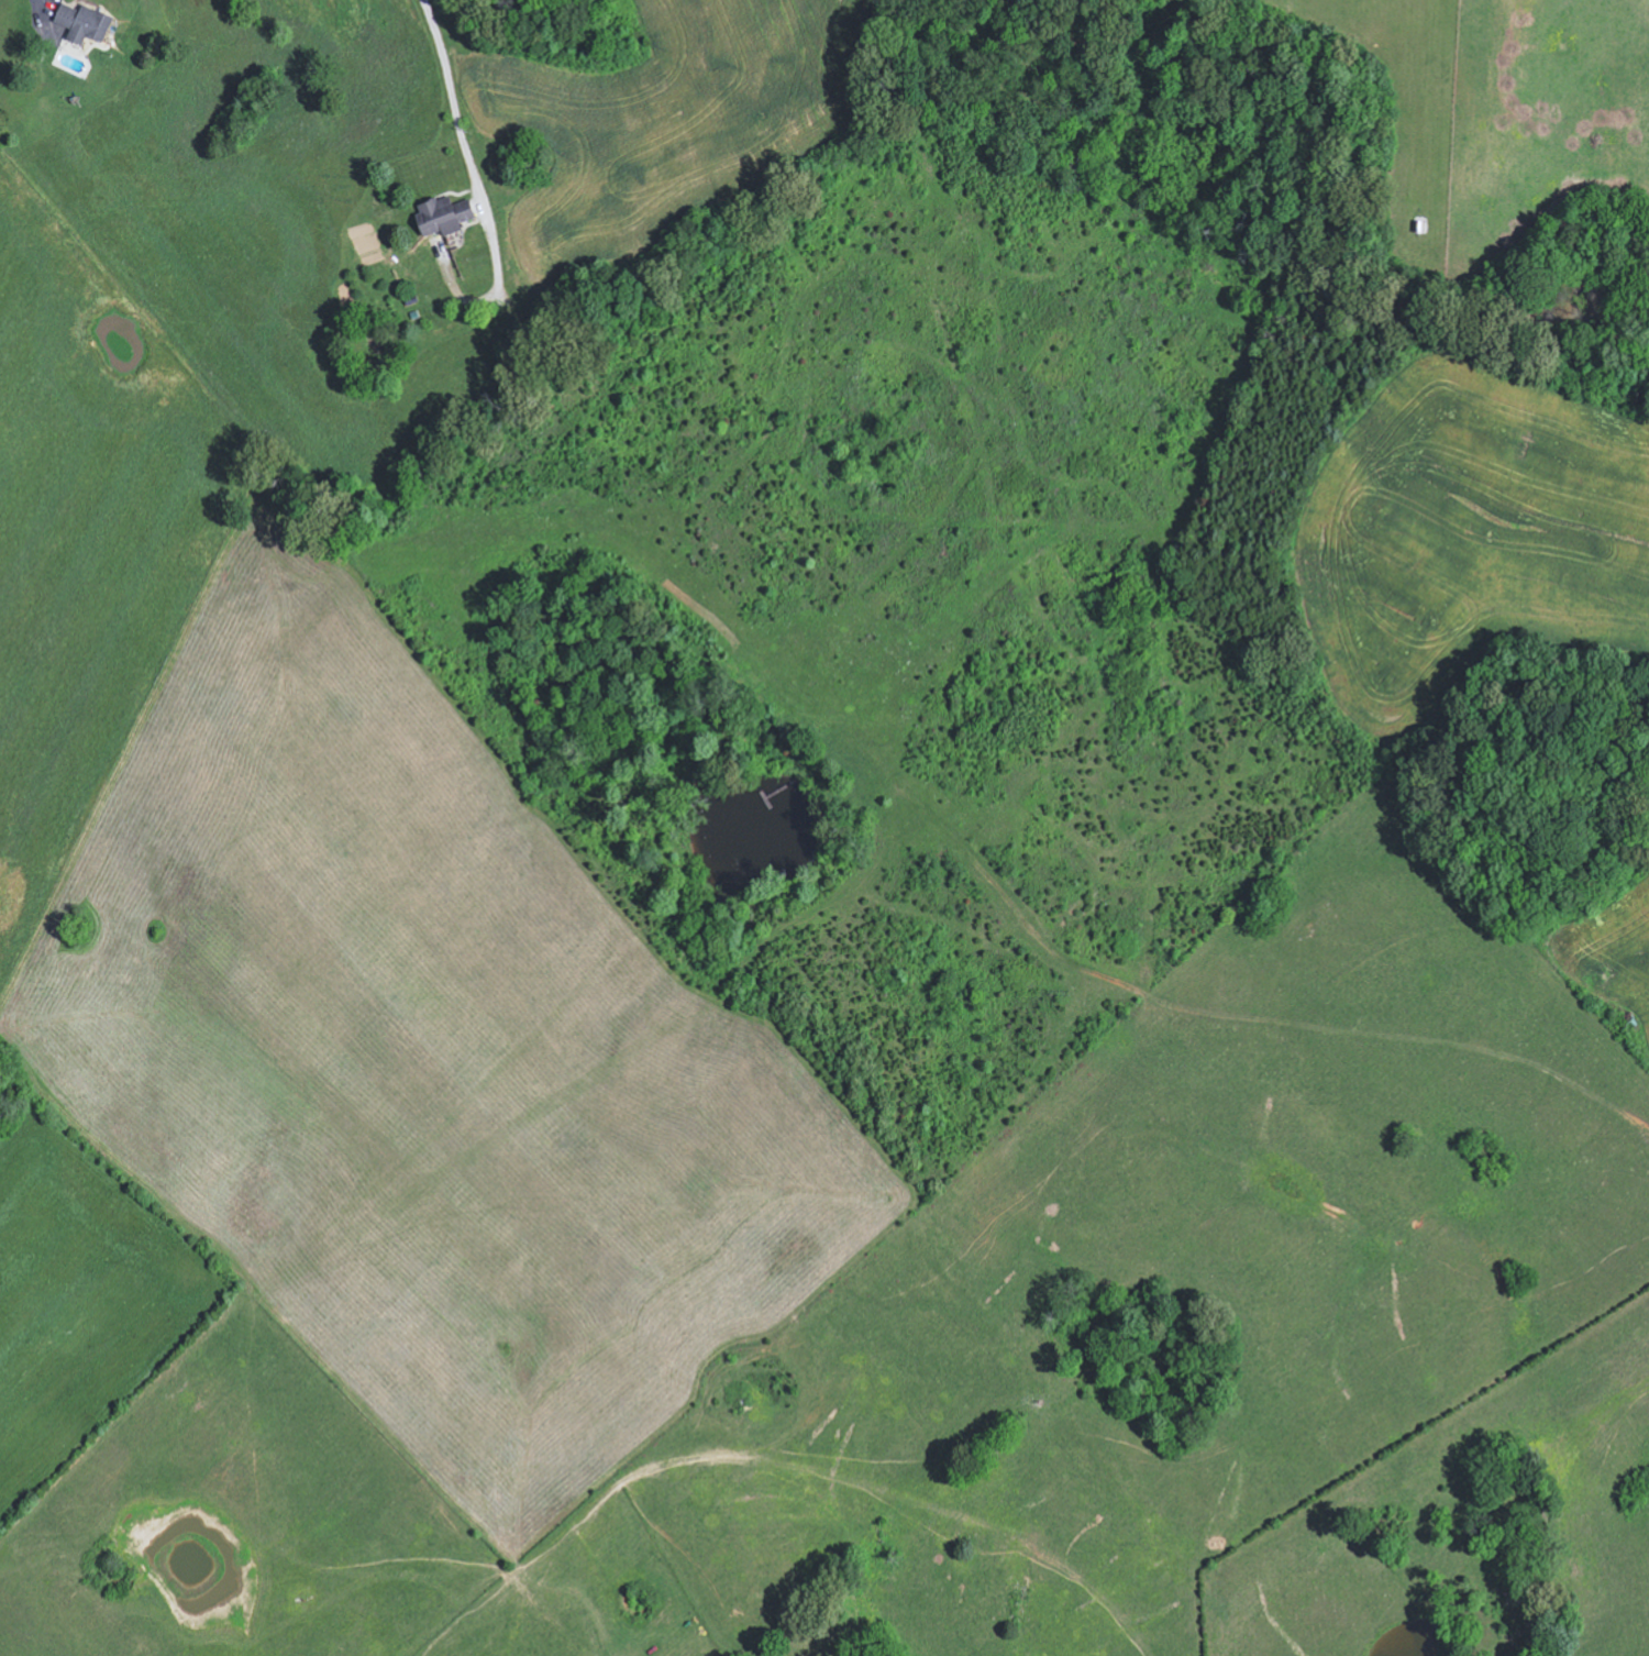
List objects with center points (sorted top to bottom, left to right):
building: (84, 22)
road: (479, 188)
building: (444, 214)

